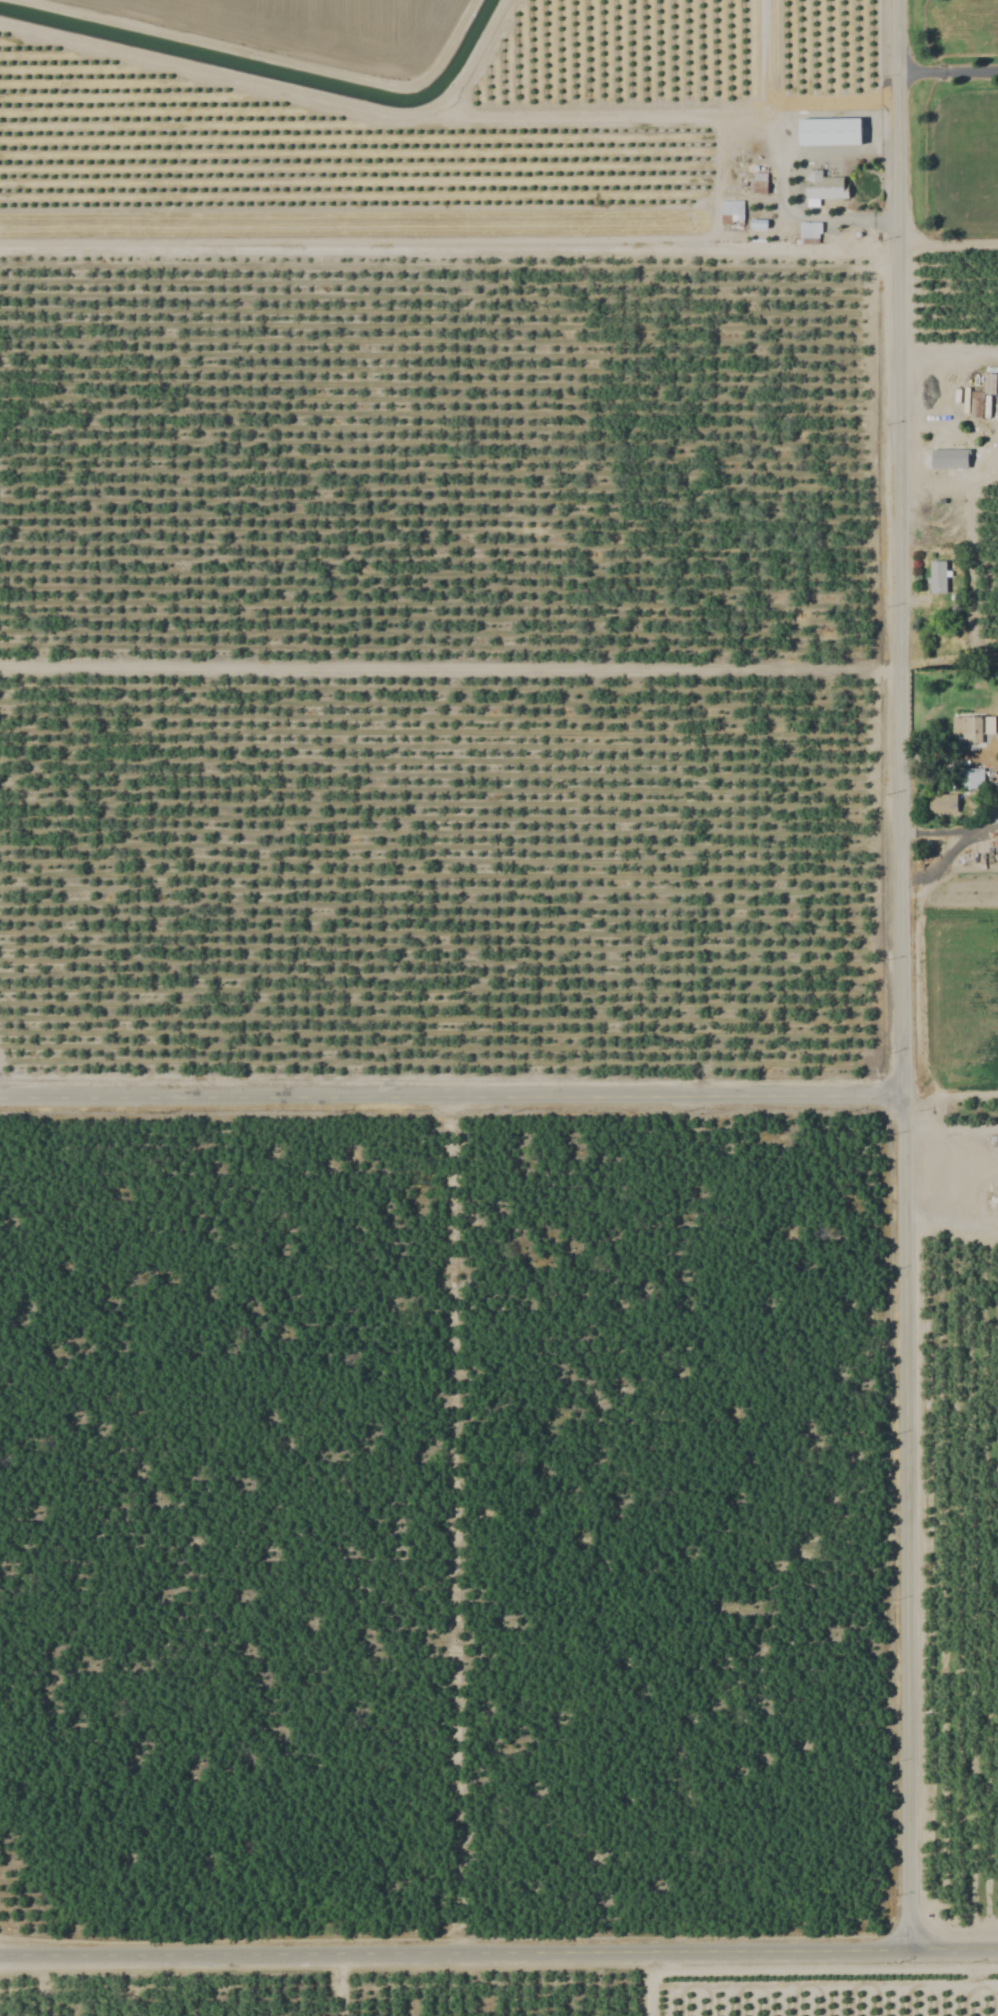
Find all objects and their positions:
road: (948, 67)
building: (829, 134)
building: (759, 184)
building: (824, 187)
building: (730, 217)
building: (808, 234)
road: (948, 242)
building: (941, 380)
building: (989, 385)
building: (976, 408)
building: (952, 460)
building: (936, 578)
building: (970, 731)
building: (972, 780)
building: (942, 804)
road: (903, 975)
road: (452, 1093)
road: (499, 1951)

